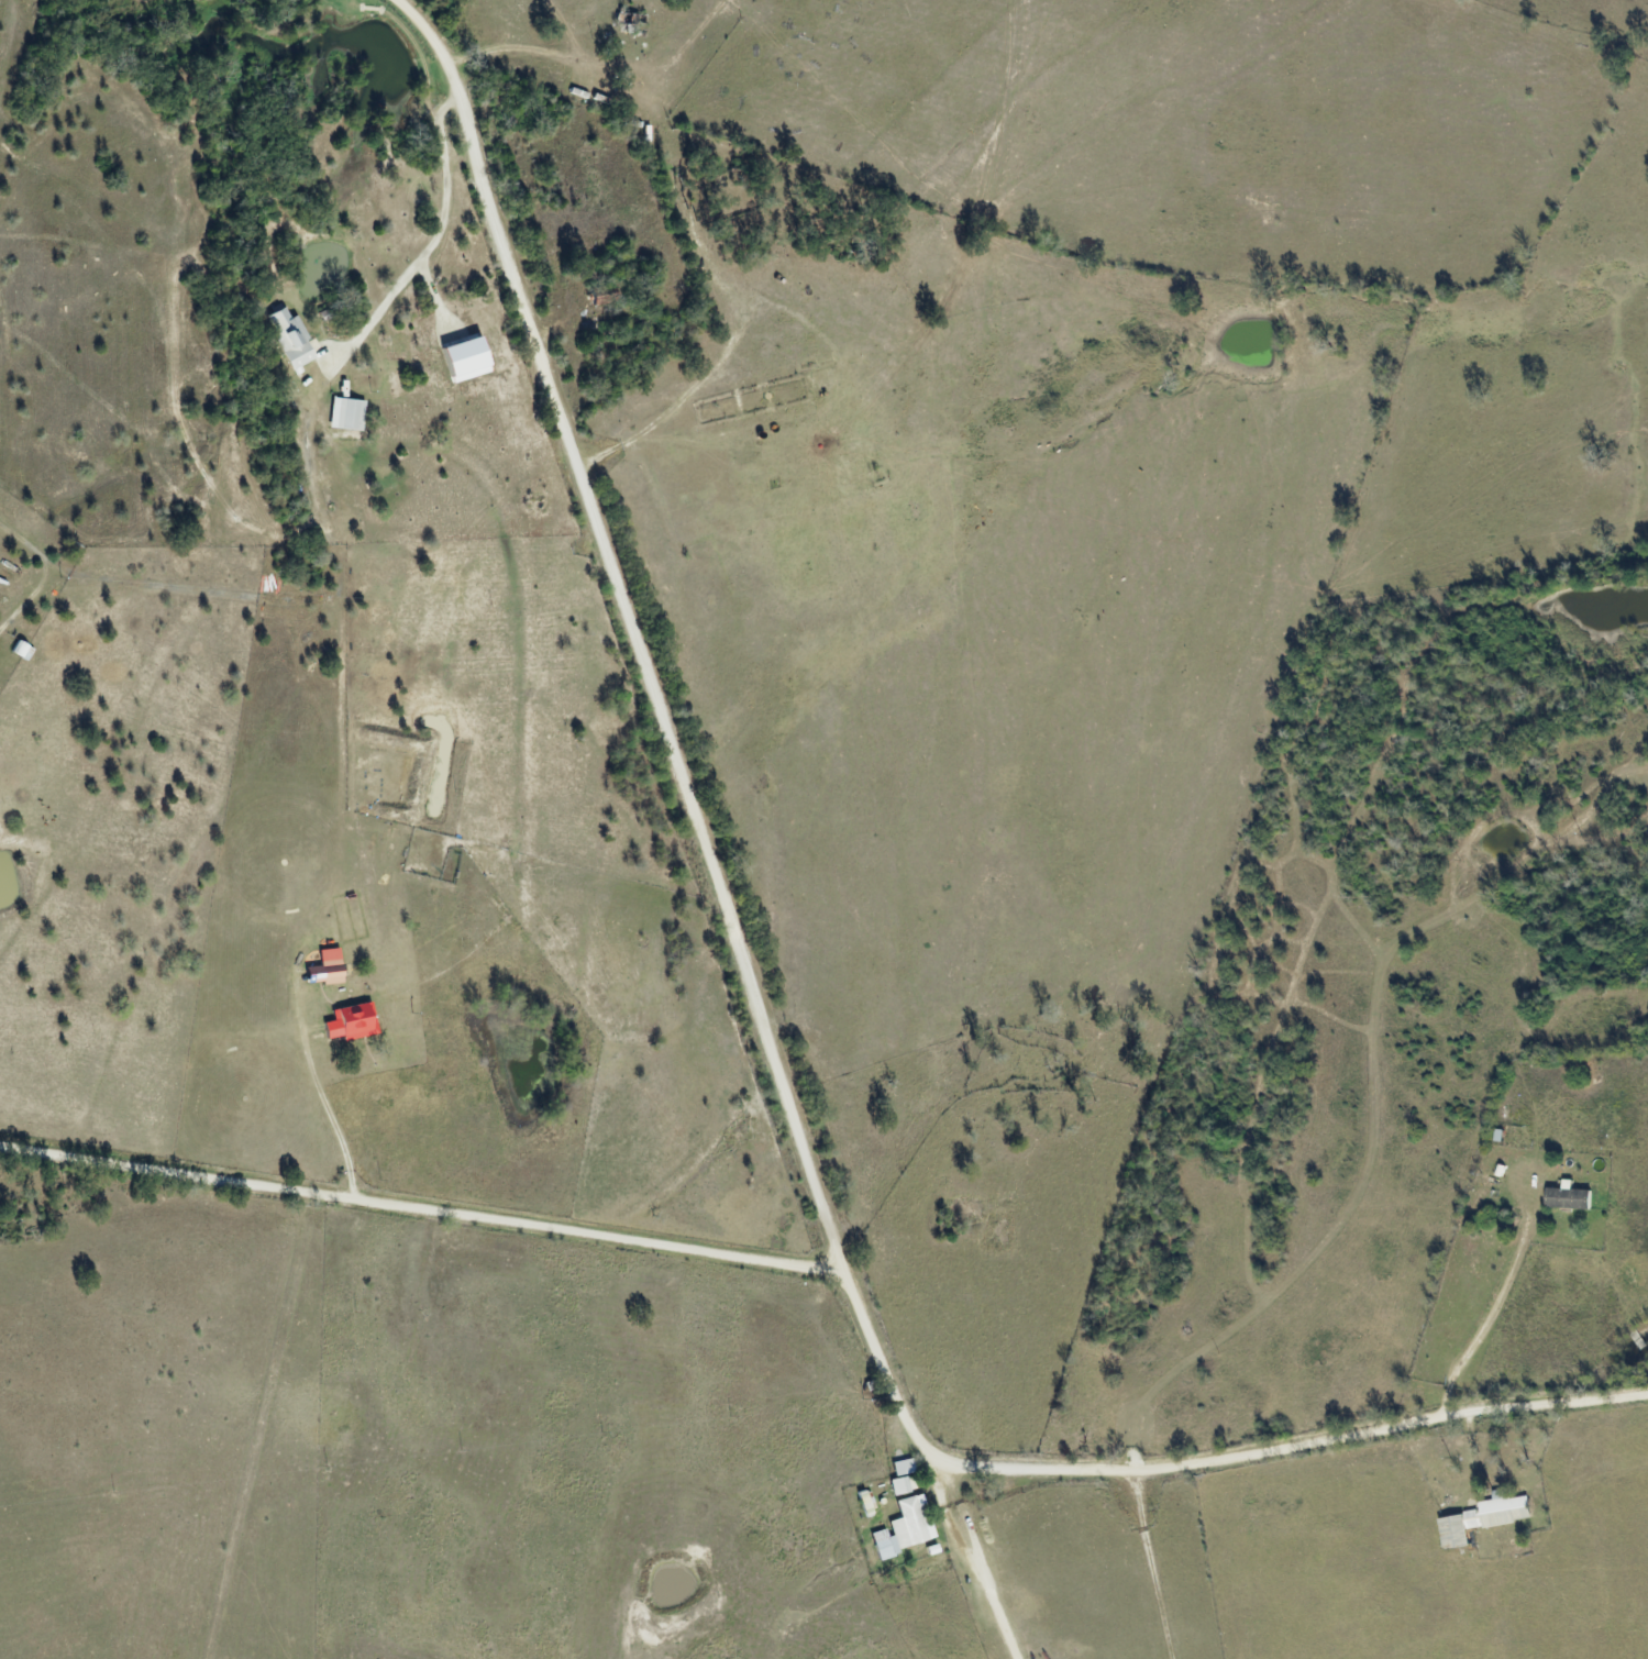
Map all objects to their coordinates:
building: (289, 340)
building: (346, 414)
road: (626, 624)
building: (327, 958)
building: (351, 1024)
building: (1569, 1197)
road: (419, 1208)
road: (885, 1369)
road: (1295, 1441)
building: (902, 1478)
building: (1485, 1518)
building: (905, 1527)

